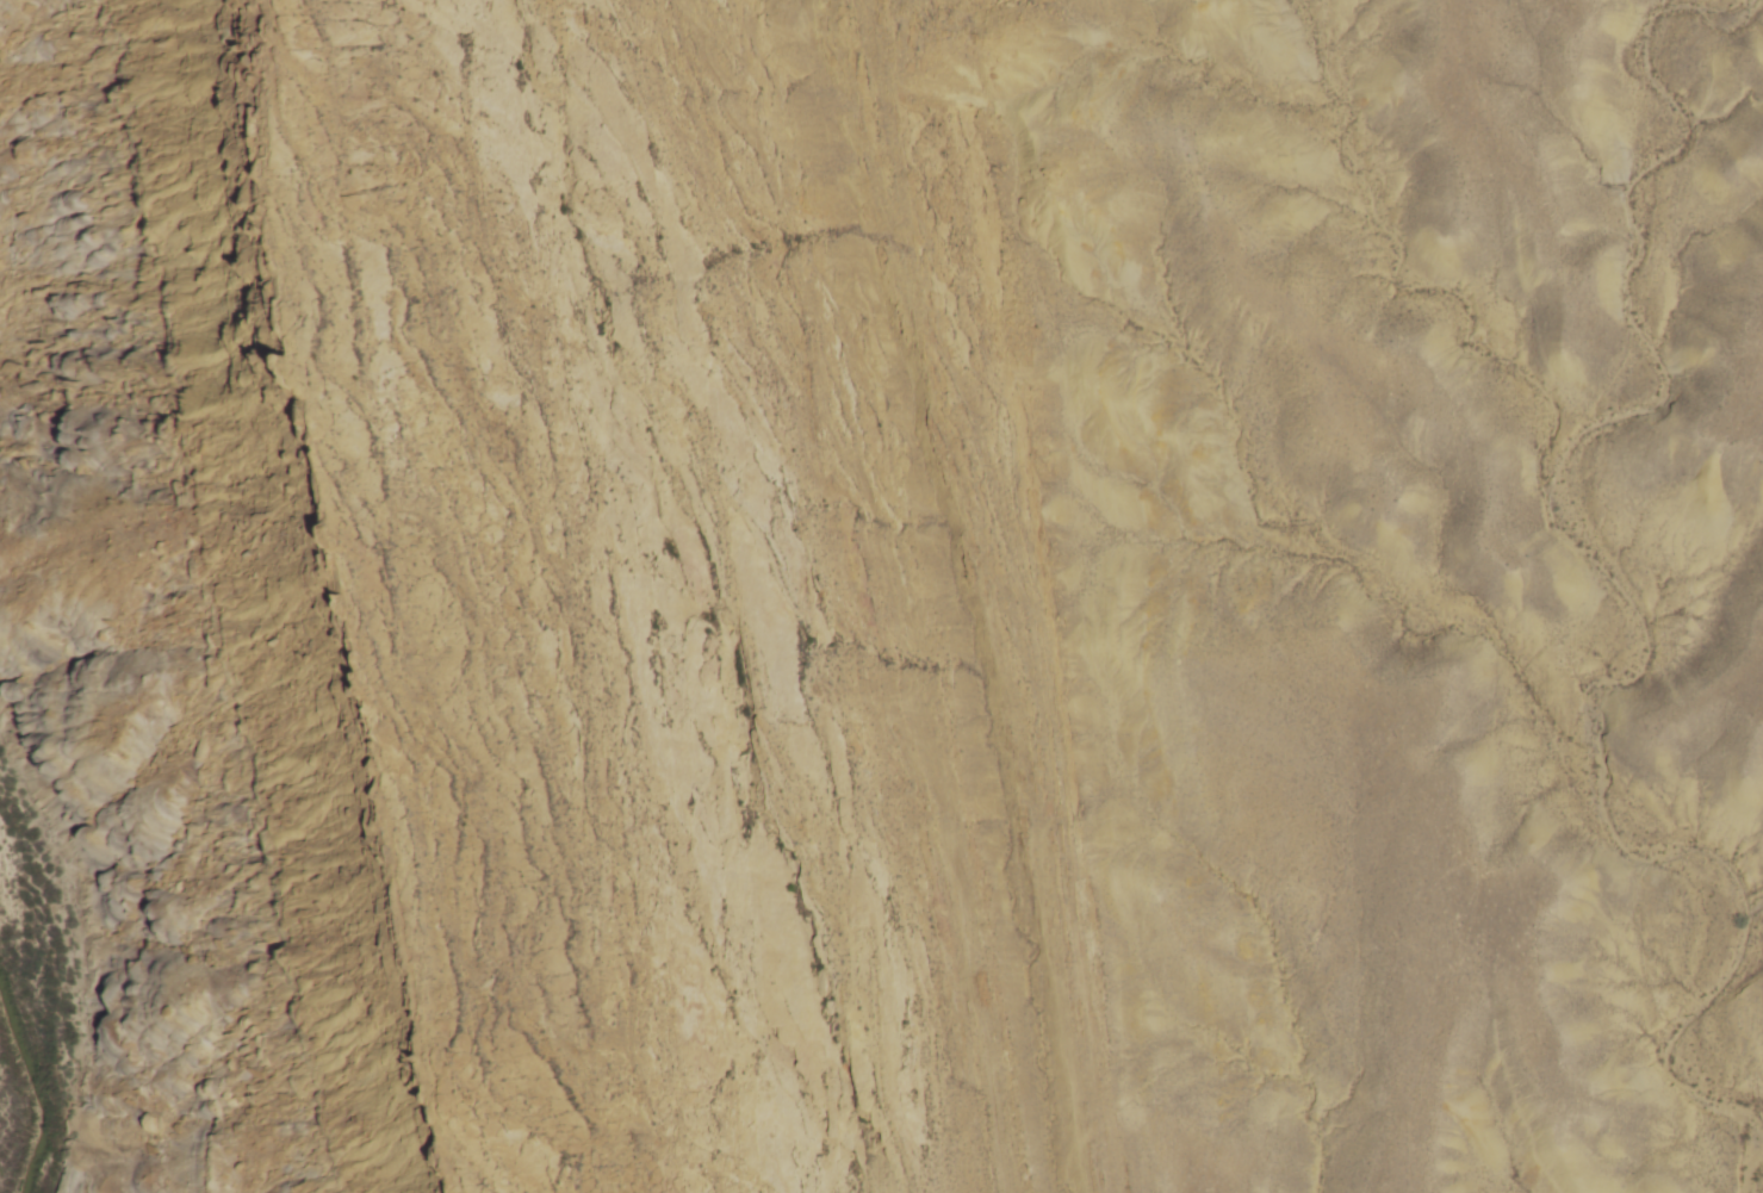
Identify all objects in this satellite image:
river: (42, 1093)

